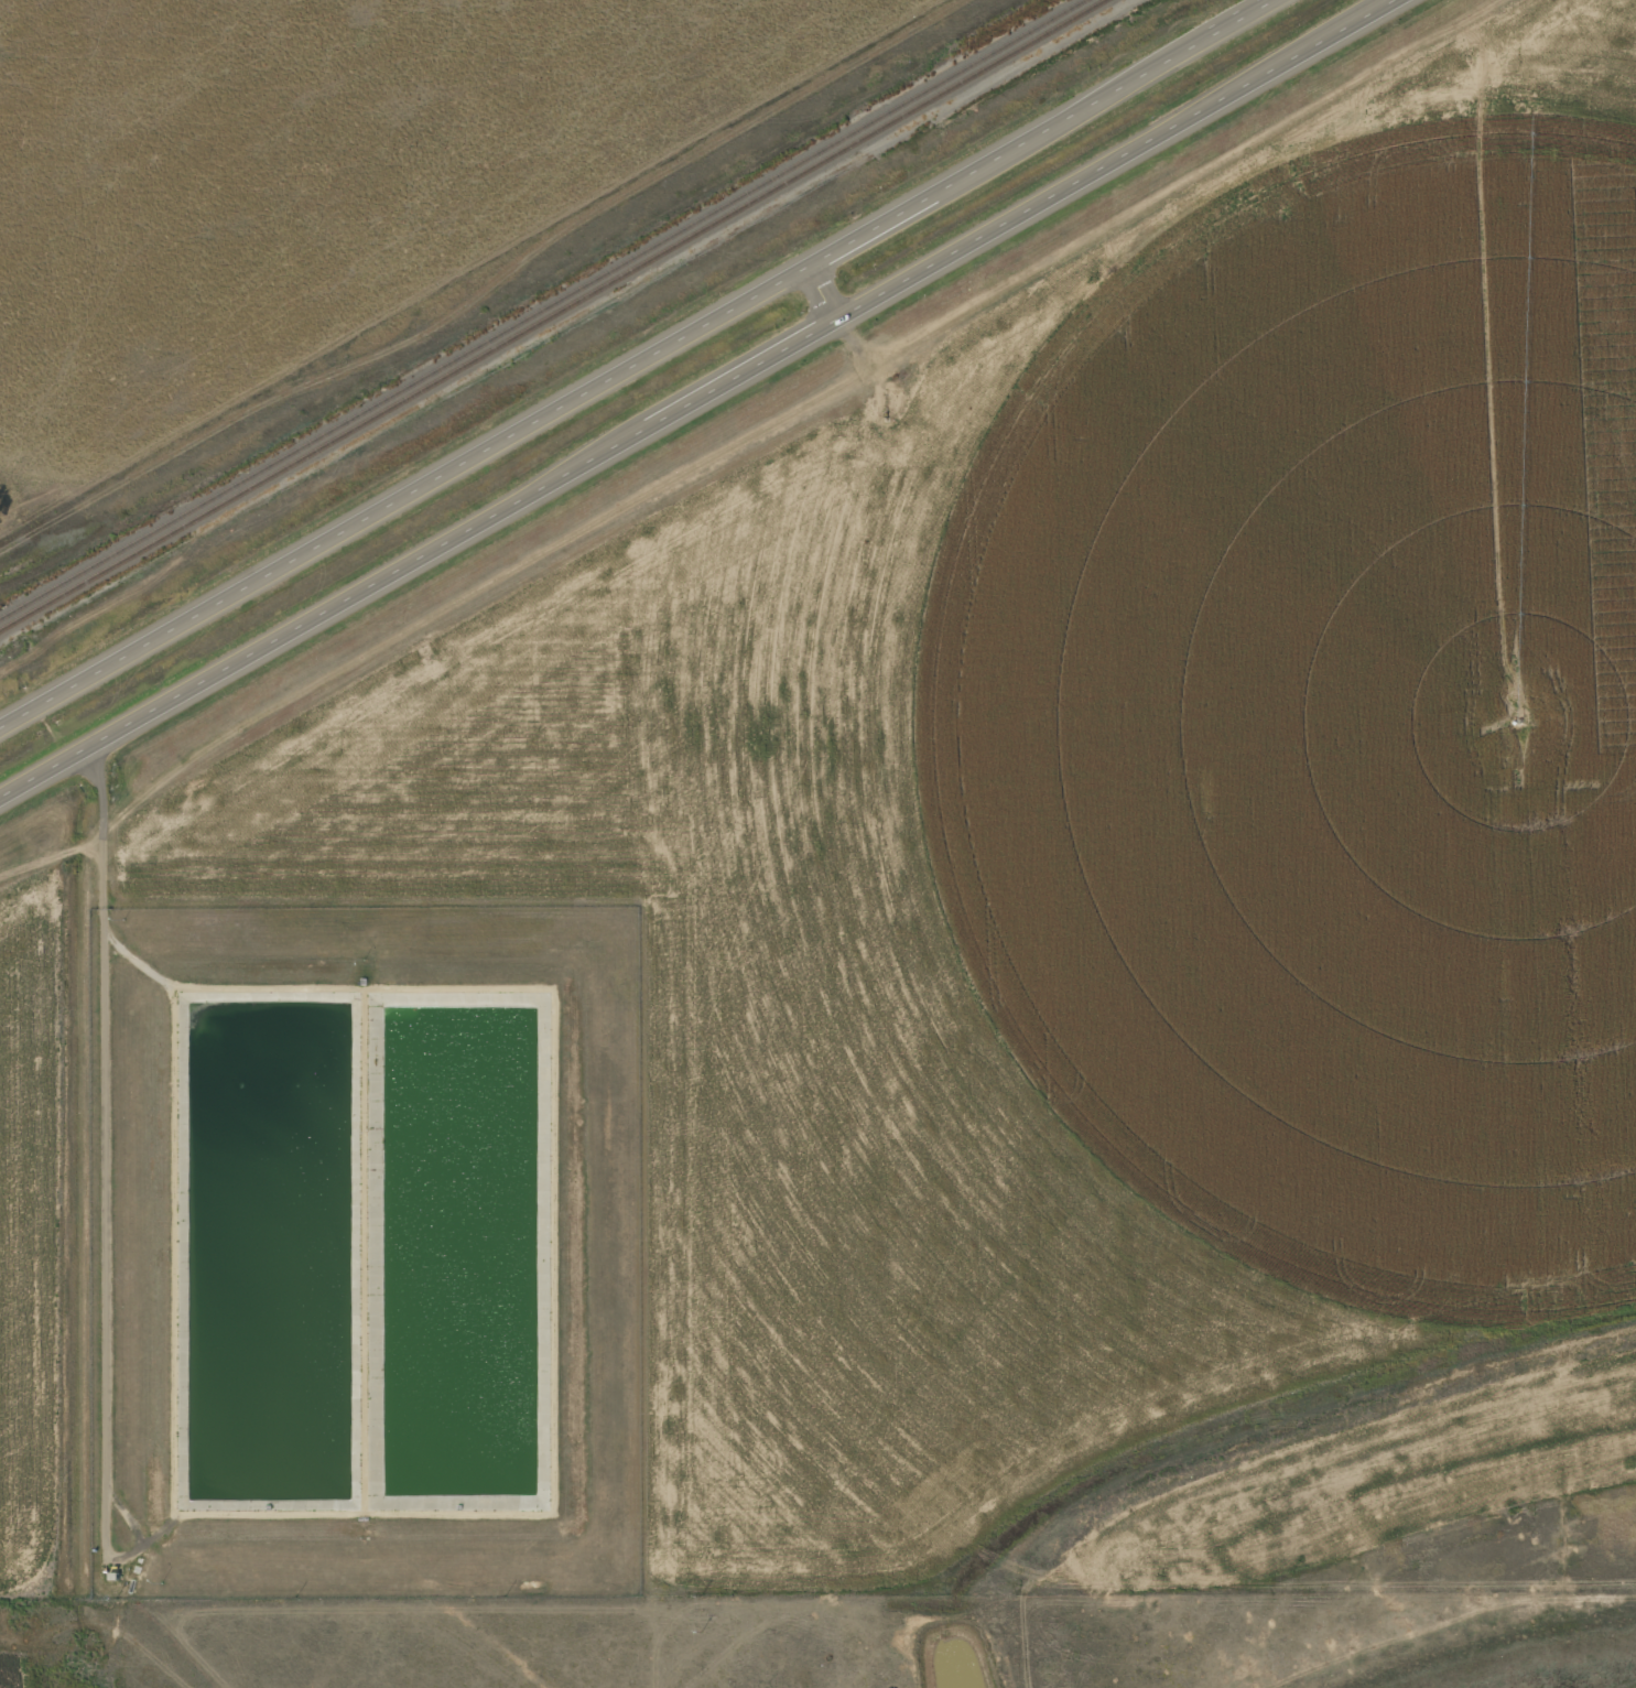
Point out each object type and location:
railway: (543, 310)
railway: (551, 315)
road: (637, 367)
road: (701, 401)

